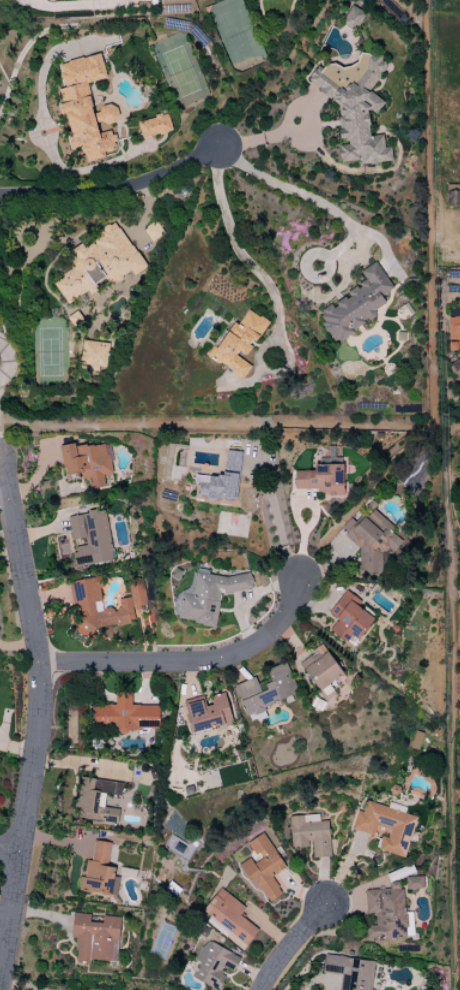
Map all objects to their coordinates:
road: (72, 5)
building: (352, 18)
building: (354, 106)
building: (84, 108)
building: (153, 126)
road: (113, 190)
road: (292, 191)
building: (152, 231)
road: (237, 250)
building: (98, 263)
building: (355, 304)
building: (454, 332)
building: (237, 344)
building: (94, 355)
road: (456, 408)
building: (86, 462)
building: (321, 477)
building: (221, 479)
road: (277, 523)
building: (90, 537)
building: (370, 541)
building: (87, 606)
building: (348, 618)
road: (191, 661)
building: (319, 668)
building: (265, 690)
building: (208, 713)
building: (125, 715)
road: (41, 717)
building: (96, 800)
building: (399, 832)
building: (309, 834)
road: (10, 853)
building: (263, 868)
building: (98, 872)
building: (413, 883)
building: (228, 918)
building: (94, 938)
road: (292, 947)
building: (212, 964)
building: (349, 972)

